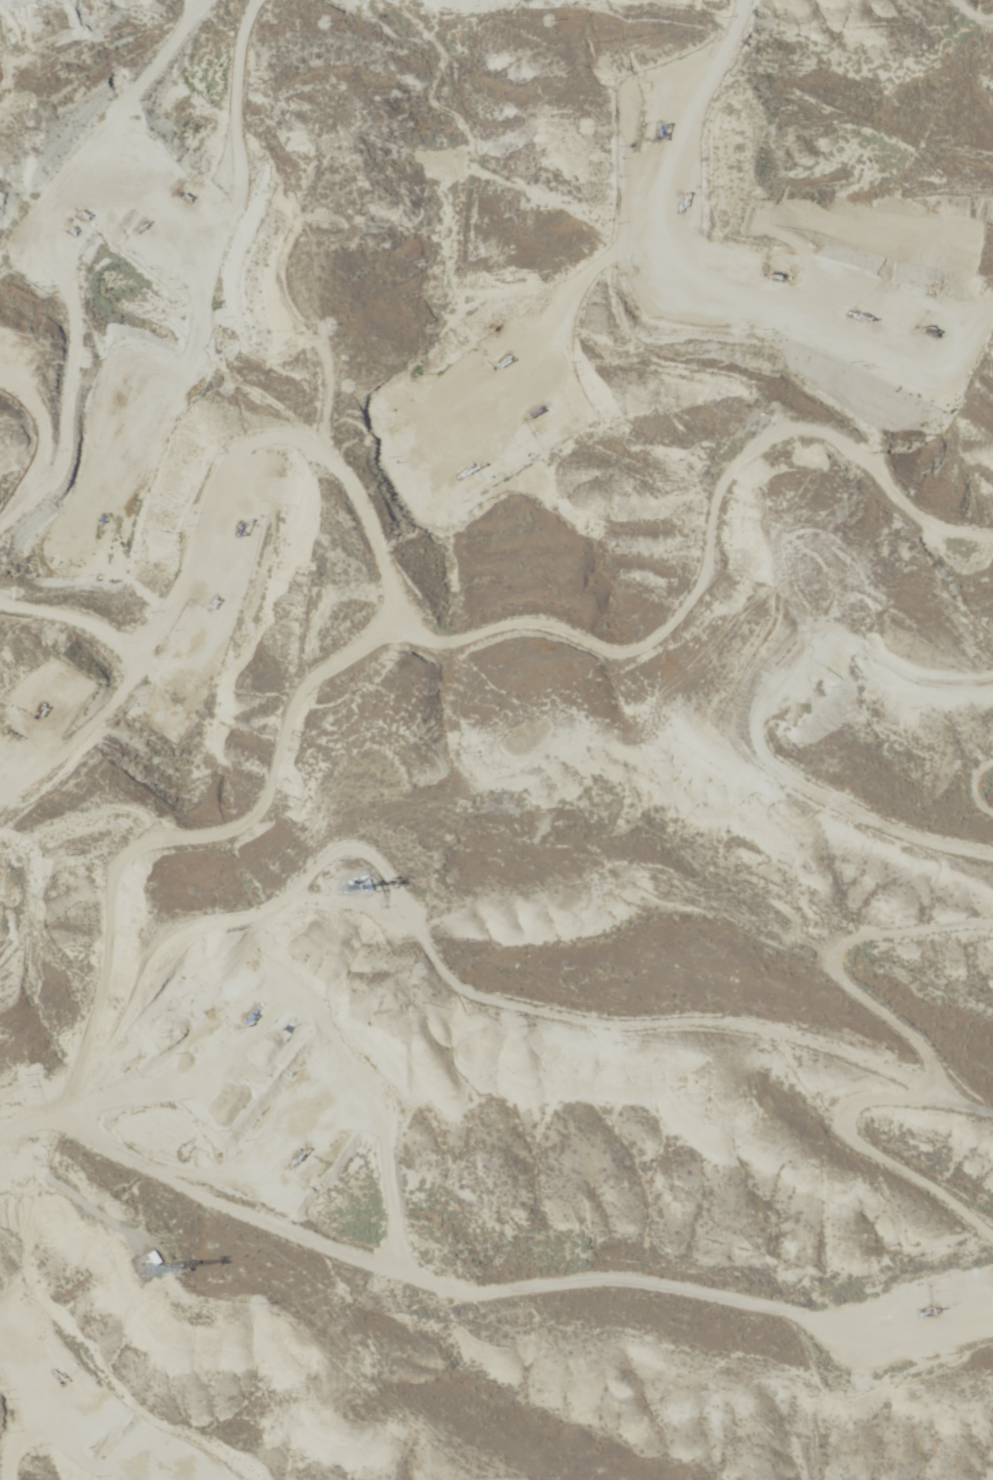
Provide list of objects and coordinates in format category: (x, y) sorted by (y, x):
road: (725, 6)
road: (961, 26)
road: (409, 32)
road: (739, 68)
road: (699, 155)
road: (259, 290)
road: (420, 610)
road: (105, 649)
road: (866, 945)
road: (575, 985)
road: (481, 1295)

